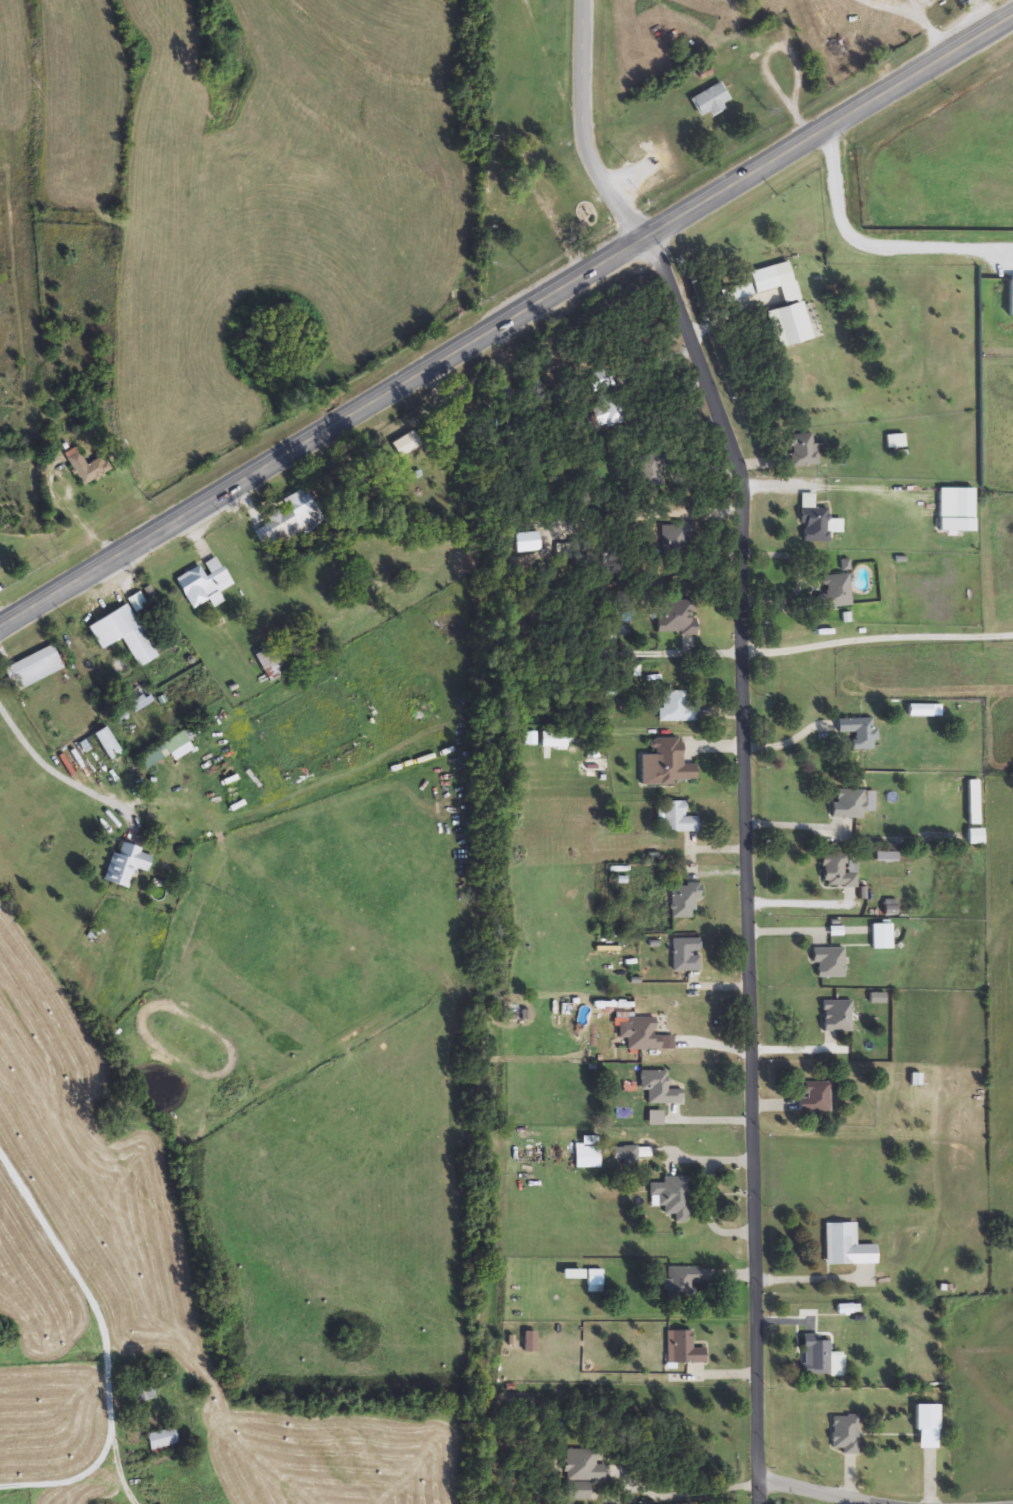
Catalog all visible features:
road: (912, 7)
road: (887, 9)
road: (933, 36)
road: (766, 61)
building: (711, 101)
road: (579, 130)
road: (876, 250)
building: (772, 278)
road: (505, 325)
building: (789, 325)
building: (605, 414)
building: (405, 445)
building: (803, 451)
building: (86, 467)
building: (956, 504)
building: (289, 520)
building: (816, 524)
building: (676, 538)
building: (564, 552)
building: (204, 584)
building: (835, 592)
building: (677, 617)
building: (132, 636)
road: (877, 643)
road: (686, 653)
building: (270, 663)
building: (33, 669)
building: (139, 699)
building: (674, 708)
building: (920, 711)
building: (859, 733)
road: (790, 741)
building: (87, 745)
building: (166, 752)
building: (665, 764)
road: (56, 779)
building: (849, 804)
building: (675, 818)
road: (796, 825)
road: (746, 863)
building: (126, 865)
building: (837, 872)
building: (683, 900)
road: (796, 903)
building: (881, 936)
building: (685, 955)
building: (829, 962)
building: (836, 1016)
building: (645, 1036)
road: (799, 1048)
building: (658, 1089)
building: (815, 1098)
building: (625, 1156)
building: (671, 1197)
building: (846, 1246)
building: (594, 1277)
building: (682, 1282)
road: (102, 1315)
building: (529, 1342)
building: (682, 1349)
building: (816, 1355)
building: (142, 1391)
building: (926, 1417)
building: (844, 1435)
building: (162, 1441)
building: (583, 1465)
road: (65, 1478)
road: (817, 1493)
road: (690, 1494)

